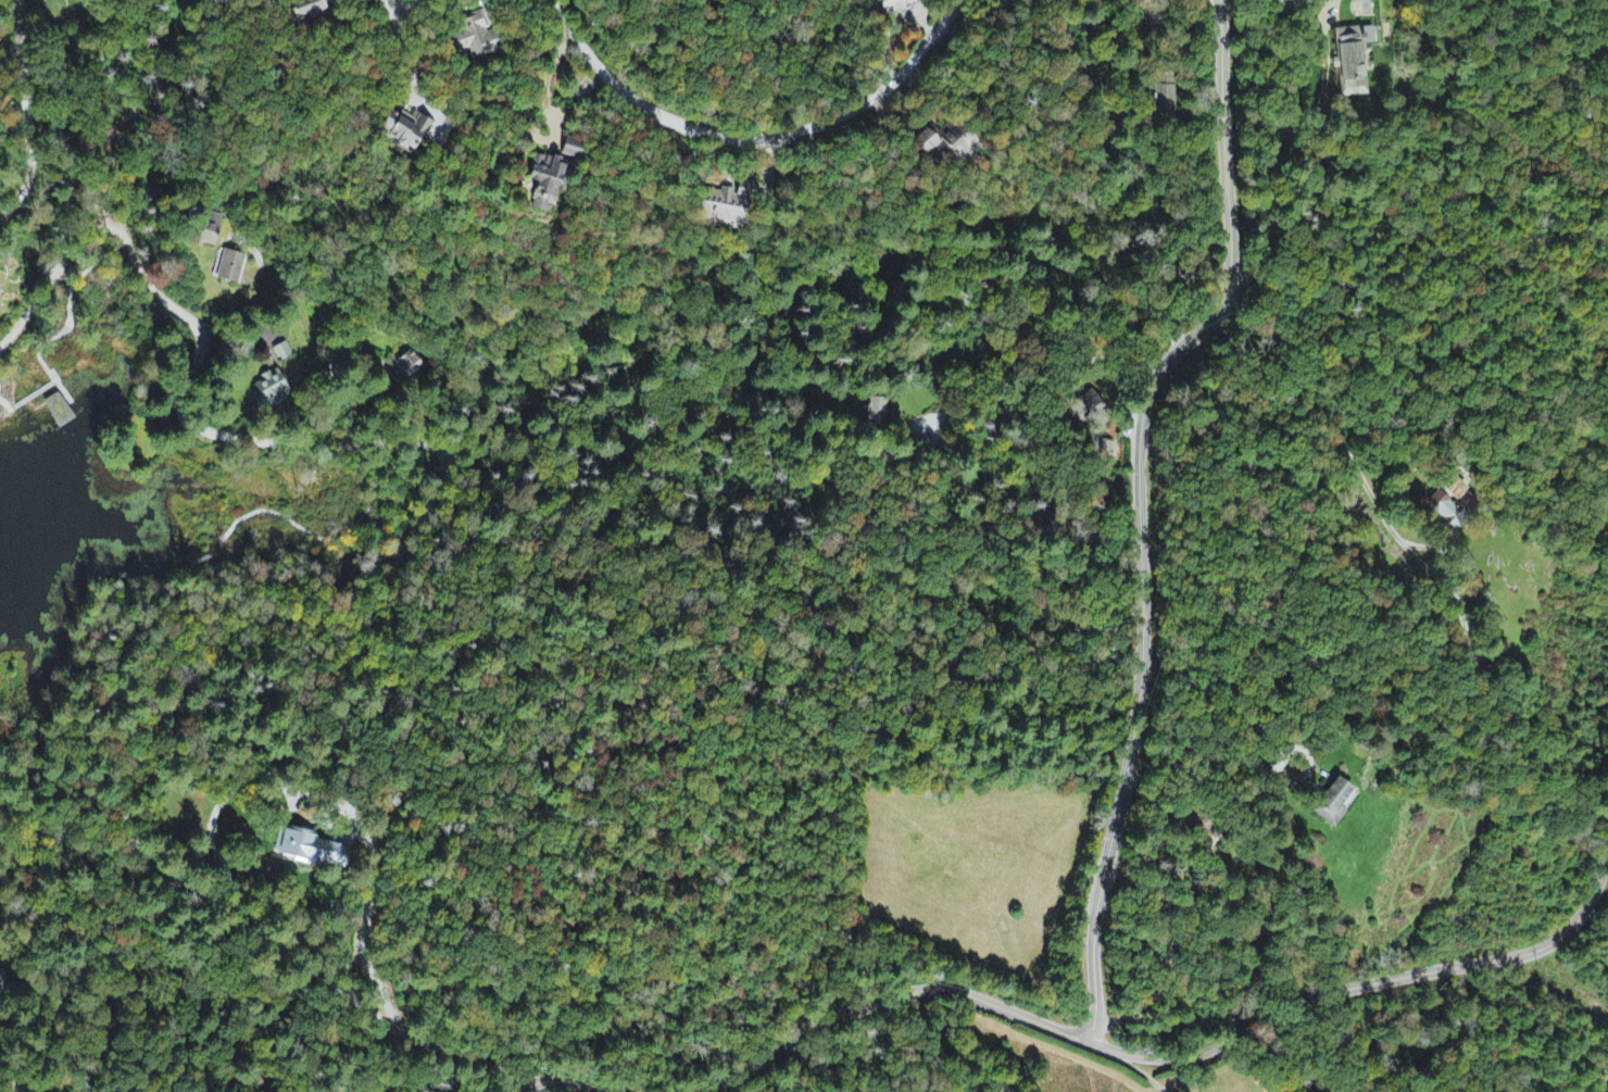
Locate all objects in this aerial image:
building: (93, 0)
road: (385, 4)
building: (897, 5)
building: (477, 37)
building: (1354, 60)
building: (1164, 95)
road: (26, 116)
building: (407, 130)
road: (753, 138)
building: (947, 140)
building: (575, 150)
building: (551, 181)
building: (727, 209)
building: (210, 231)
road: (118, 243)
building: (230, 268)
road: (64, 331)
building: (284, 353)
building: (409, 366)
building: (271, 391)
road: (34, 392)
road: (5, 404)
building: (59, 409)
building: (875, 413)
road: (422, 451)
road: (1247, 475)
building: (1457, 490)
road: (1140, 507)
building: (1444, 510)
road: (294, 524)
road: (370, 618)
road: (43, 726)
building: (1337, 804)
building: (309, 851)
road: (23, 900)
road: (70, 903)
road: (17, 925)
road: (56, 927)
building: (3, 978)
road: (28, 984)
road: (106, 999)
road: (1180, 1058)
road: (1127, 1065)
road: (549, 1082)
road: (16, 1090)

